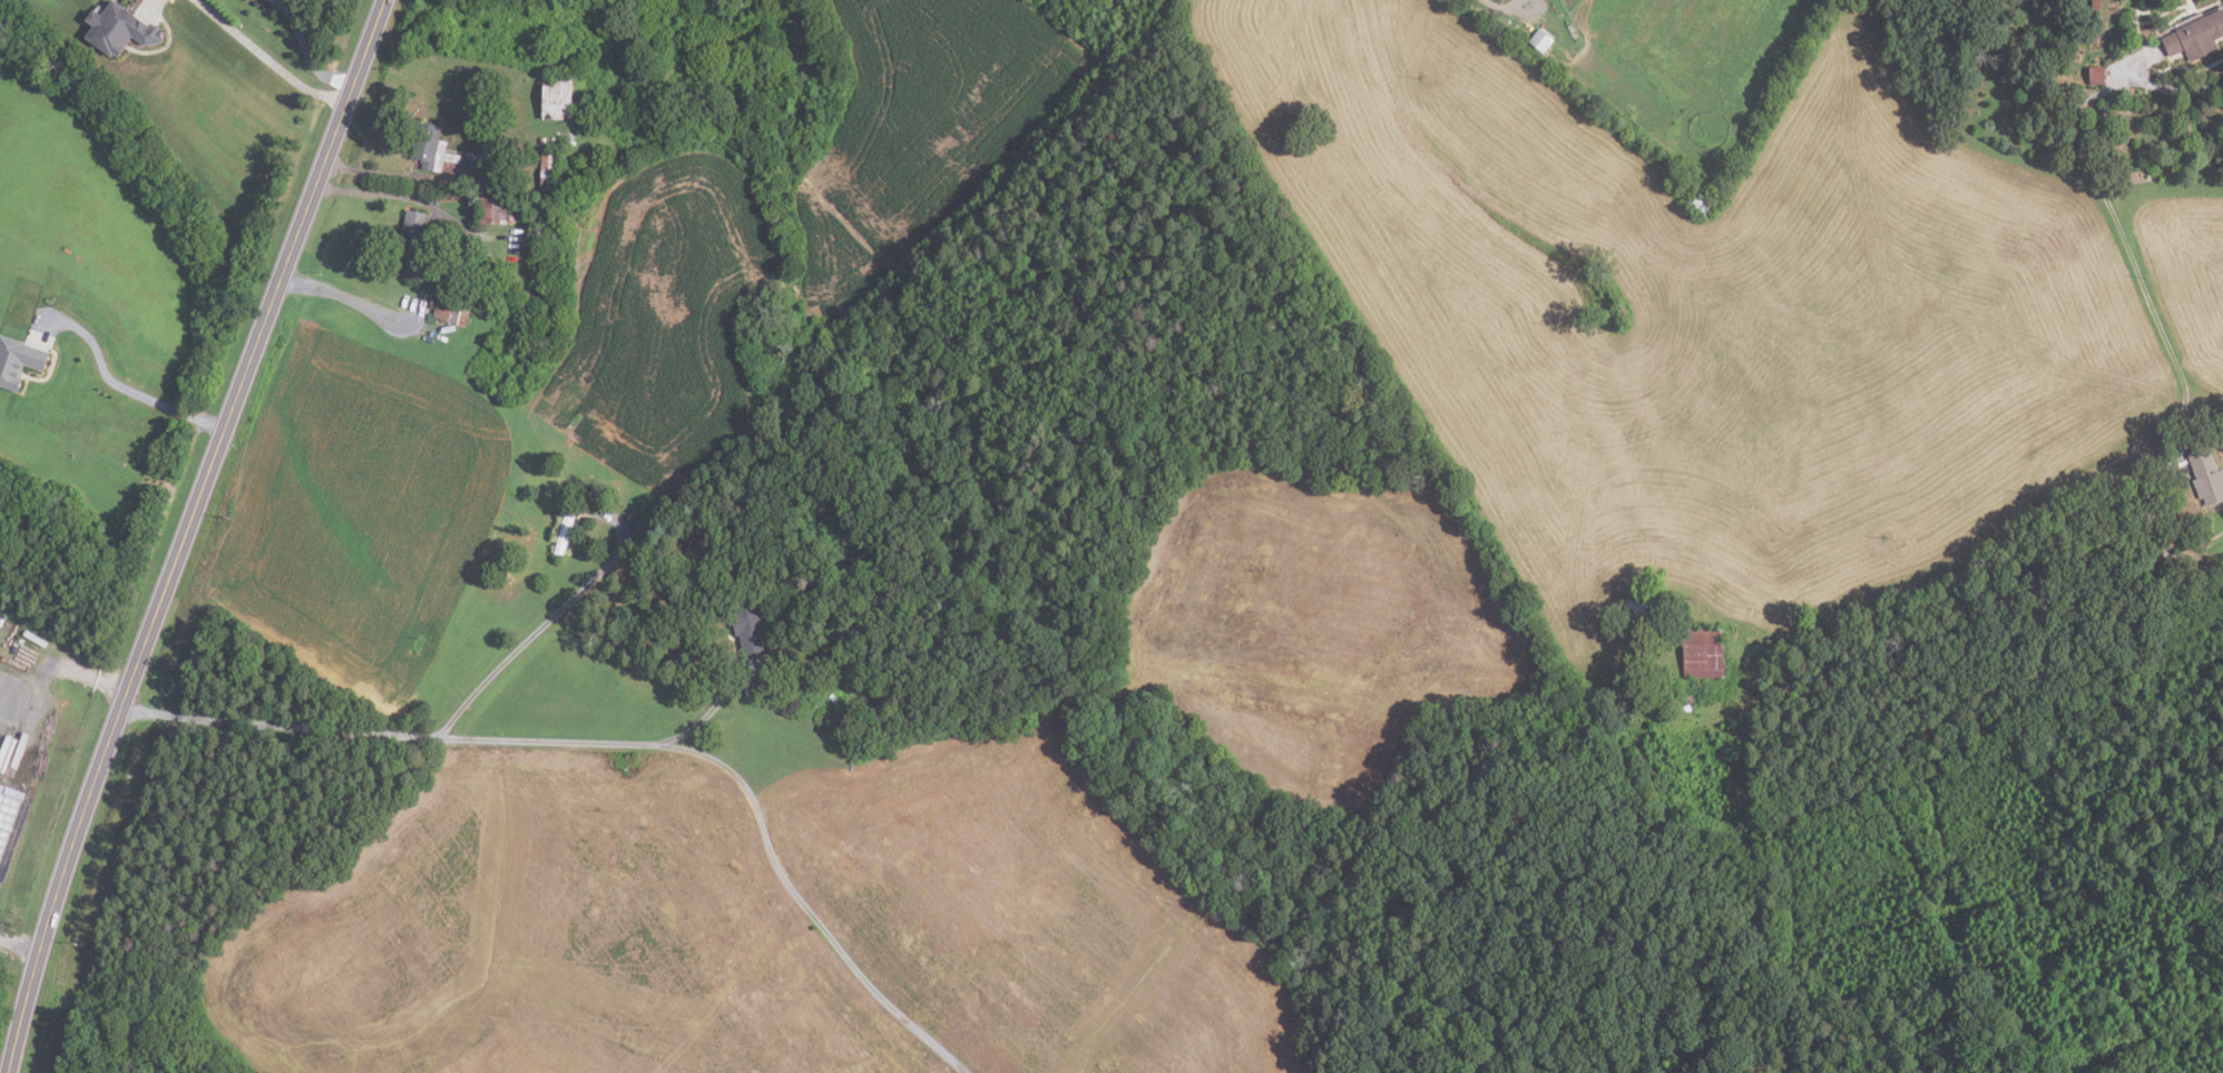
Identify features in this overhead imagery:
road: (276, 0)
road: (277, 0)
building: (2097, 6)
building: (119, 30)
building: (2197, 37)
building: (1543, 40)
road: (303, 56)
road: (265, 58)
building: (2097, 75)
road: (2172, 87)
building: (557, 97)
building: (543, 140)
building: (430, 148)
building: (548, 174)
road: (402, 177)
road: (402, 196)
building: (1700, 204)
building: (492, 210)
building: (511, 219)
building: (411, 237)
crop: (669, 243)
road: (346, 298)
building: (451, 304)
building: (19, 362)
road: (123, 388)
building: (2207, 475)
building: (591, 489)
building: (603, 492)
crop: (362, 511)
building: (638, 525)
road: (184, 532)
building: (565, 532)
building: (1645, 610)
road: (1957, 622)
building: (747, 623)
road: (540, 624)
building: (1705, 652)
road: (61, 681)
road: (694, 710)
road: (384, 731)
building: (7, 816)
road: (800, 899)
crop: (1032, 909)
crop: (548, 938)
road: (18, 942)

